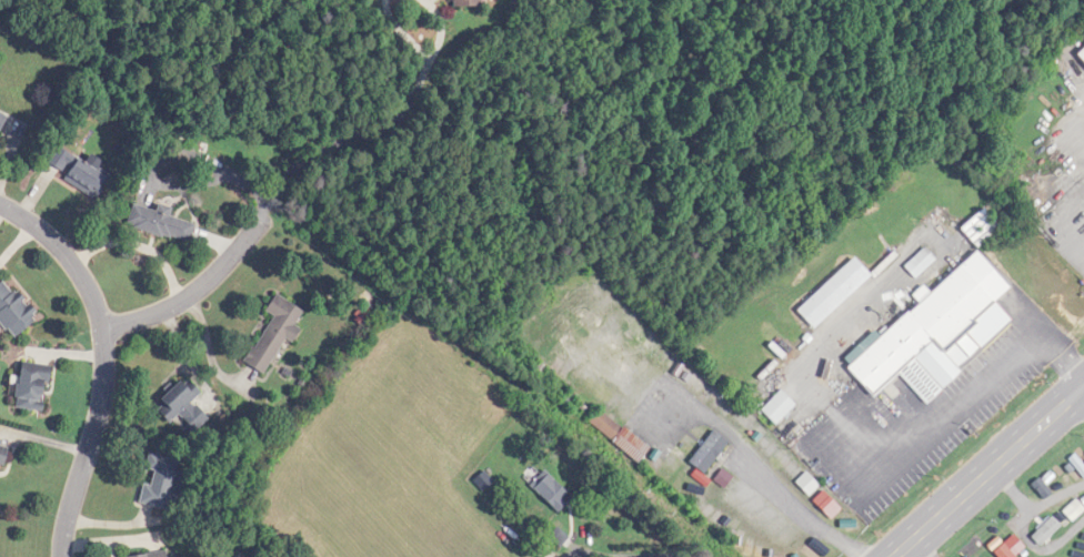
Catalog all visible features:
building: (469, 2)
building: (1080, 57)
building: (3, 120)
road: (293, 172)
building: (84, 176)
building: (162, 223)
building: (836, 292)
building: (16, 310)
building: (940, 332)
building: (277, 333)
road: (104, 362)
road: (980, 384)
building: (34, 386)
building: (184, 406)
building: (780, 407)
building: (606, 424)
building: (633, 445)
building: (711, 452)
building: (3, 455)
building: (774, 458)
road: (986, 469)
road: (763, 474)
building: (160, 482)
road: (1012, 488)
building: (553, 492)
building: (830, 503)
building: (1071, 510)
road: (1023, 529)
building: (1043, 530)
building: (793, 550)
building: (153, 555)
road: (629, 555)

